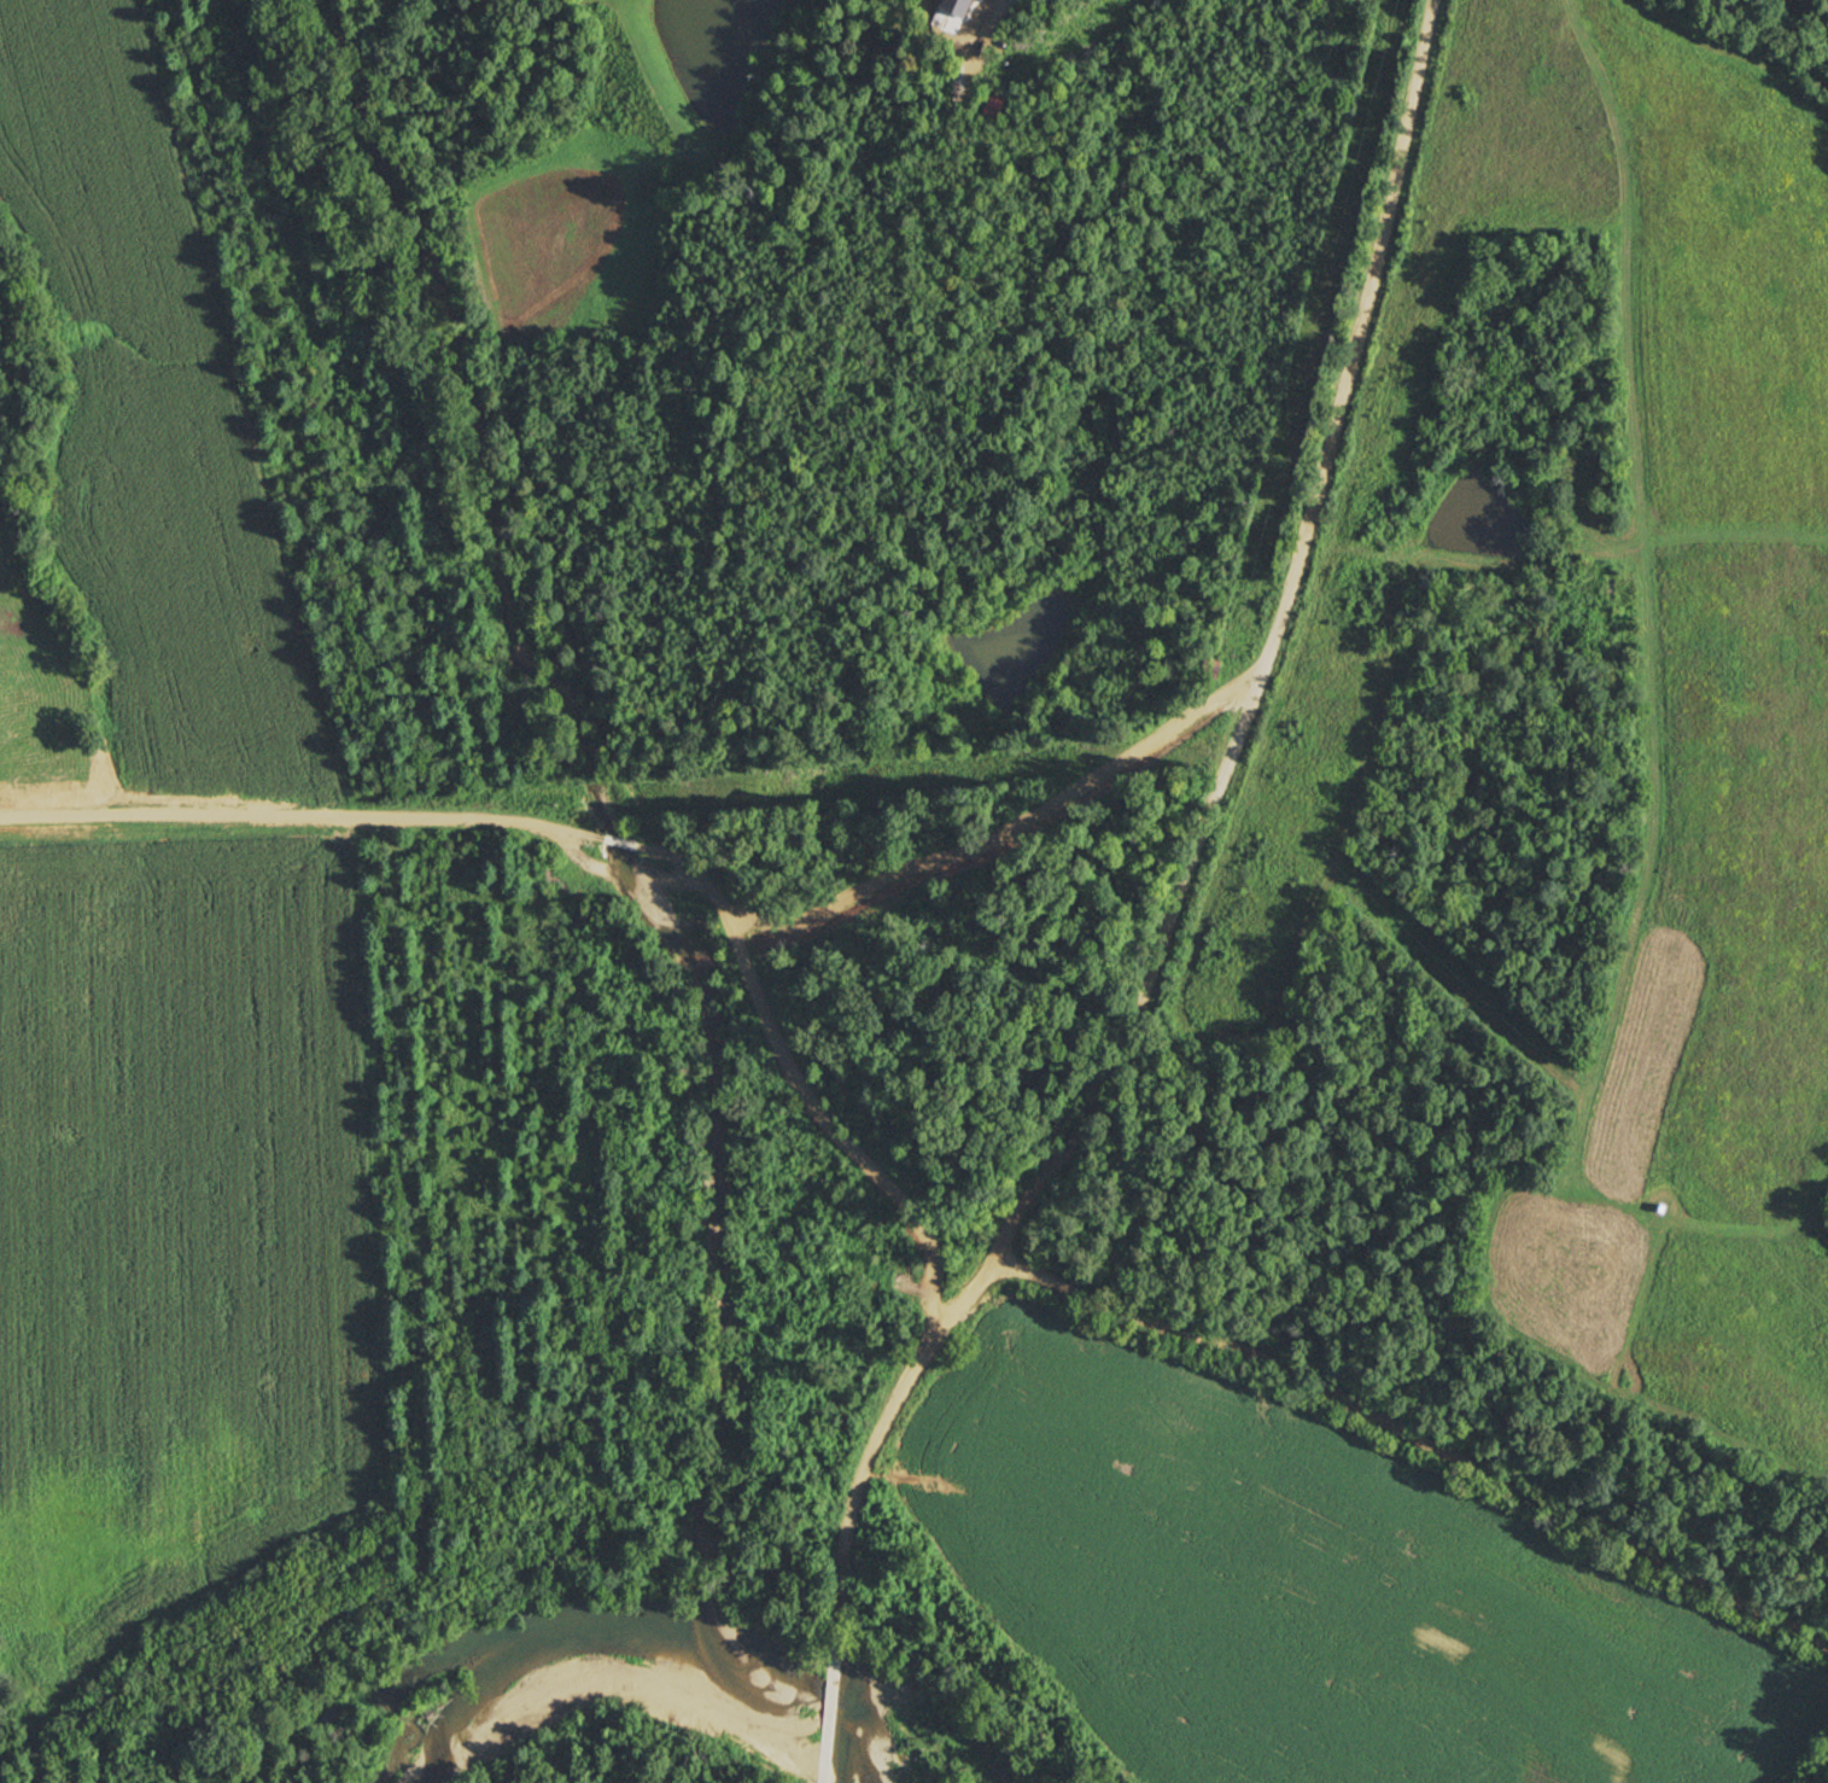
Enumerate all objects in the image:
road: (613, 808)
road: (1167, 911)
road: (700, 1090)
road: (1412, 1449)
river: (689, 1650)

